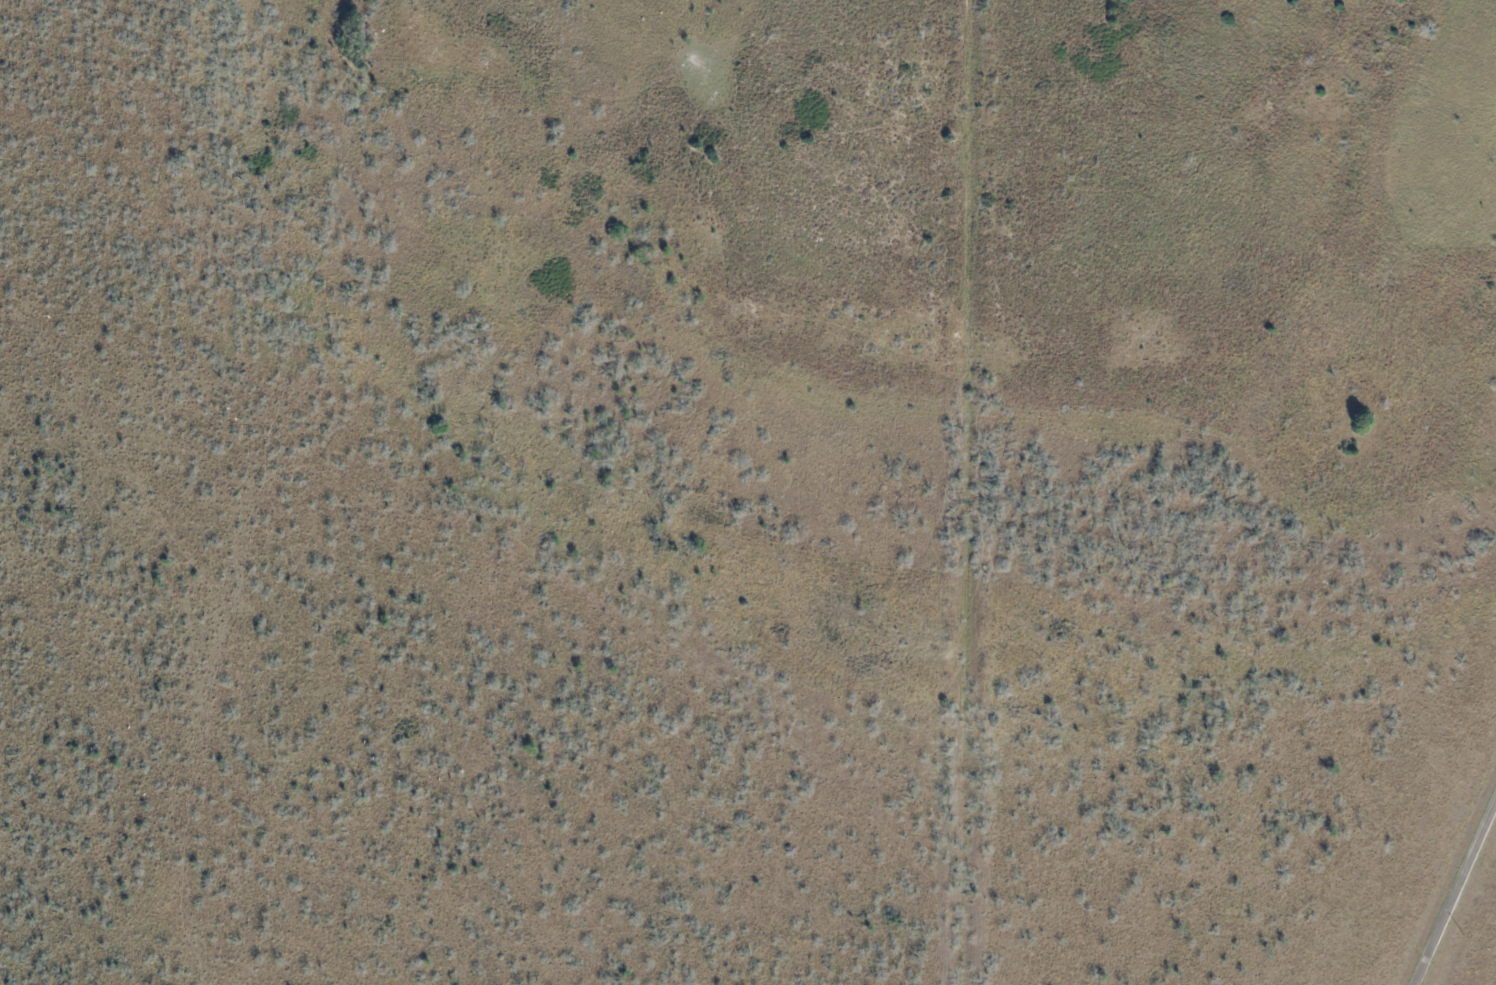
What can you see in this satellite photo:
road: (1453, 889)

